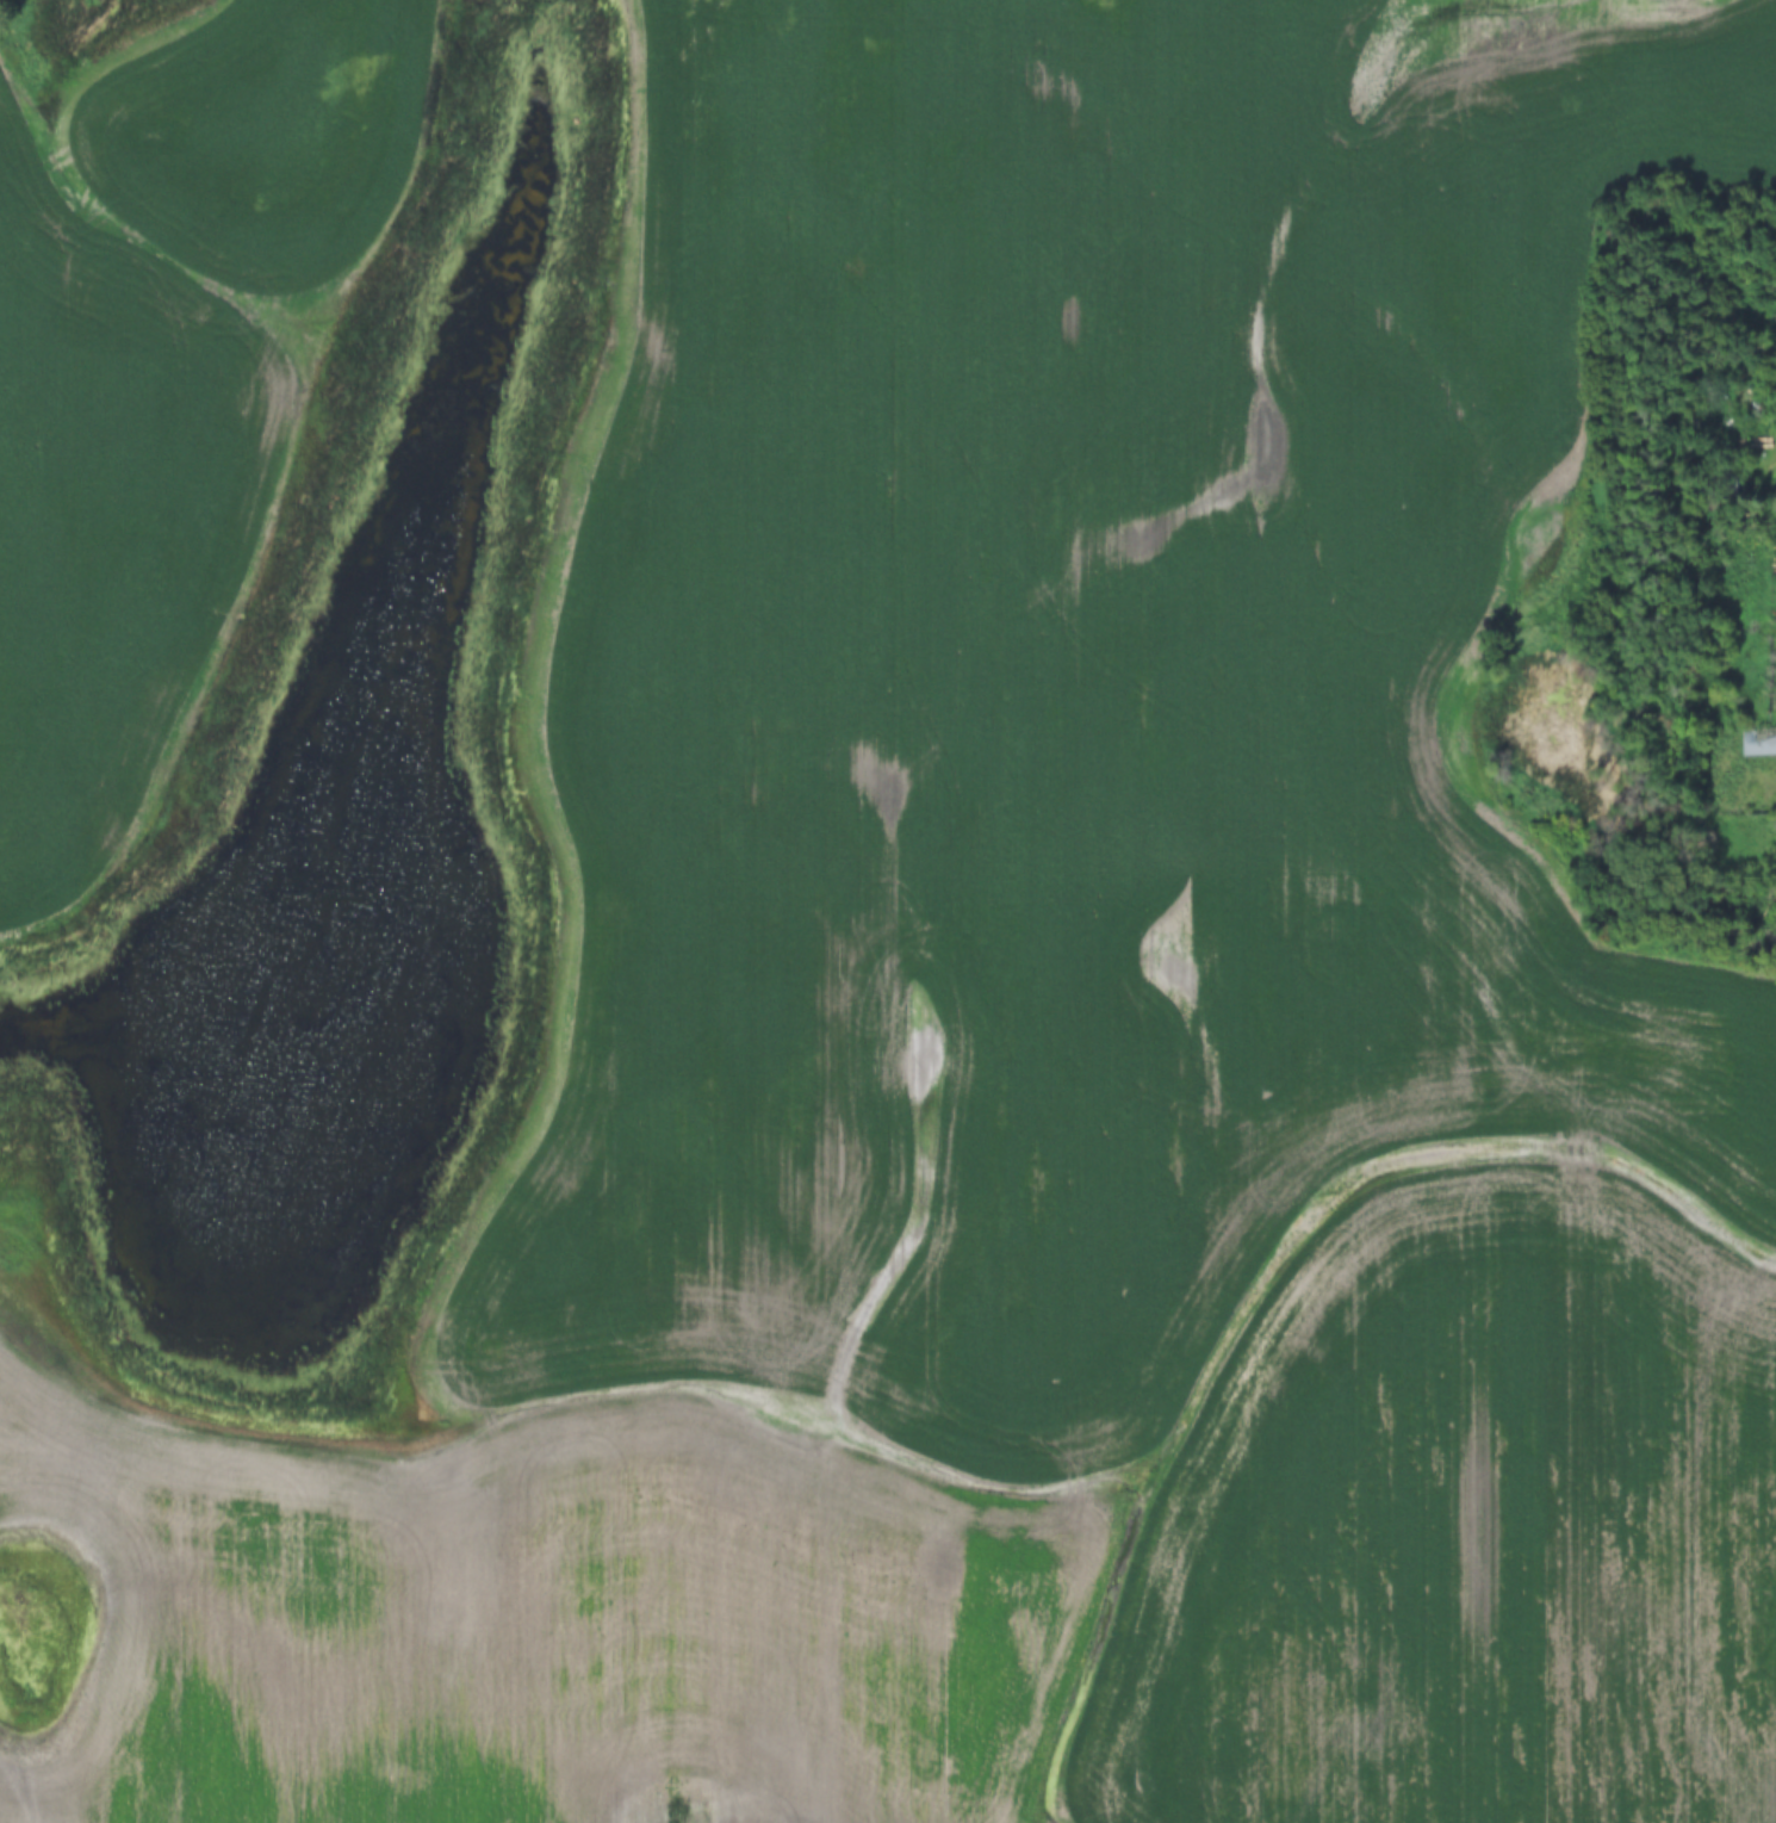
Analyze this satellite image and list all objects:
road: (1769, 317)
building: (1758, 743)

